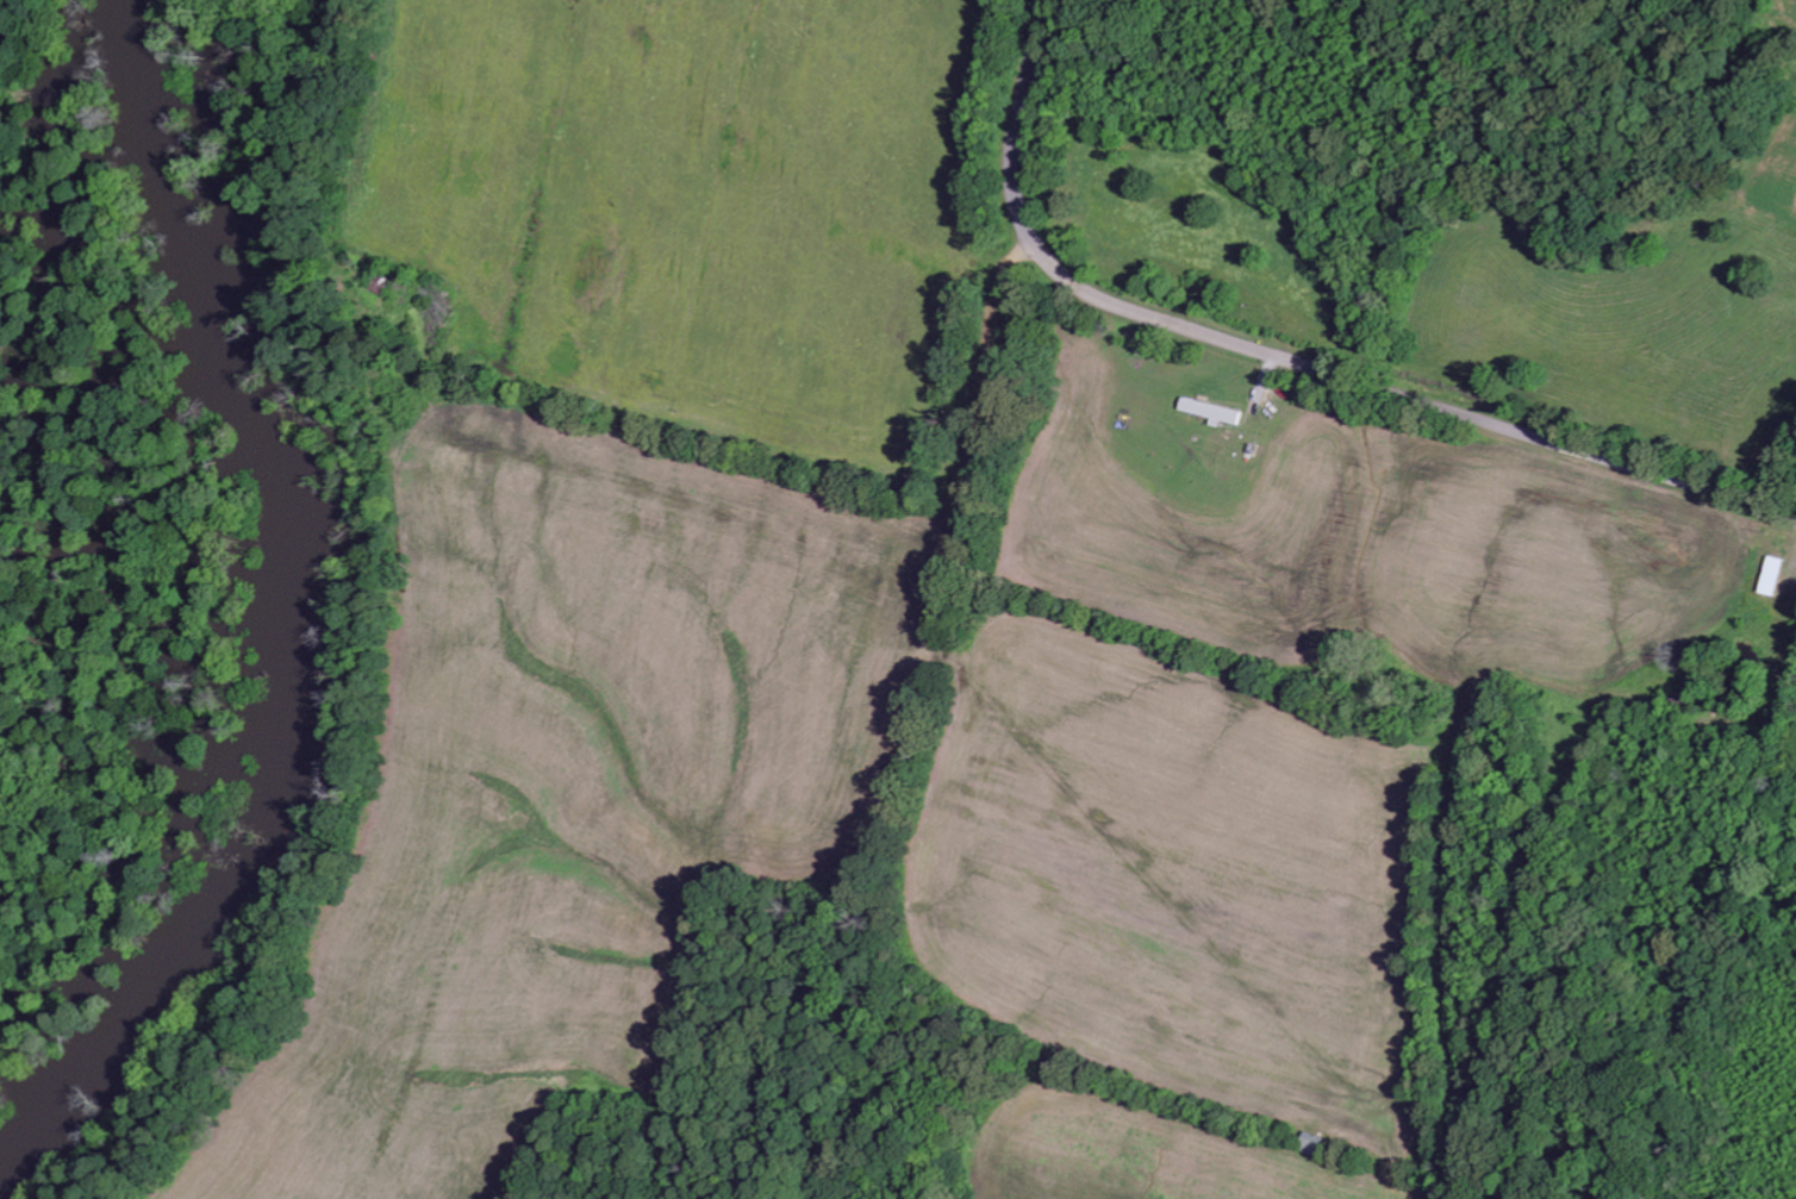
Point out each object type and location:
road: (1290, 357)
building: (1216, 411)
building: (1770, 575)
river: (297, 620)

